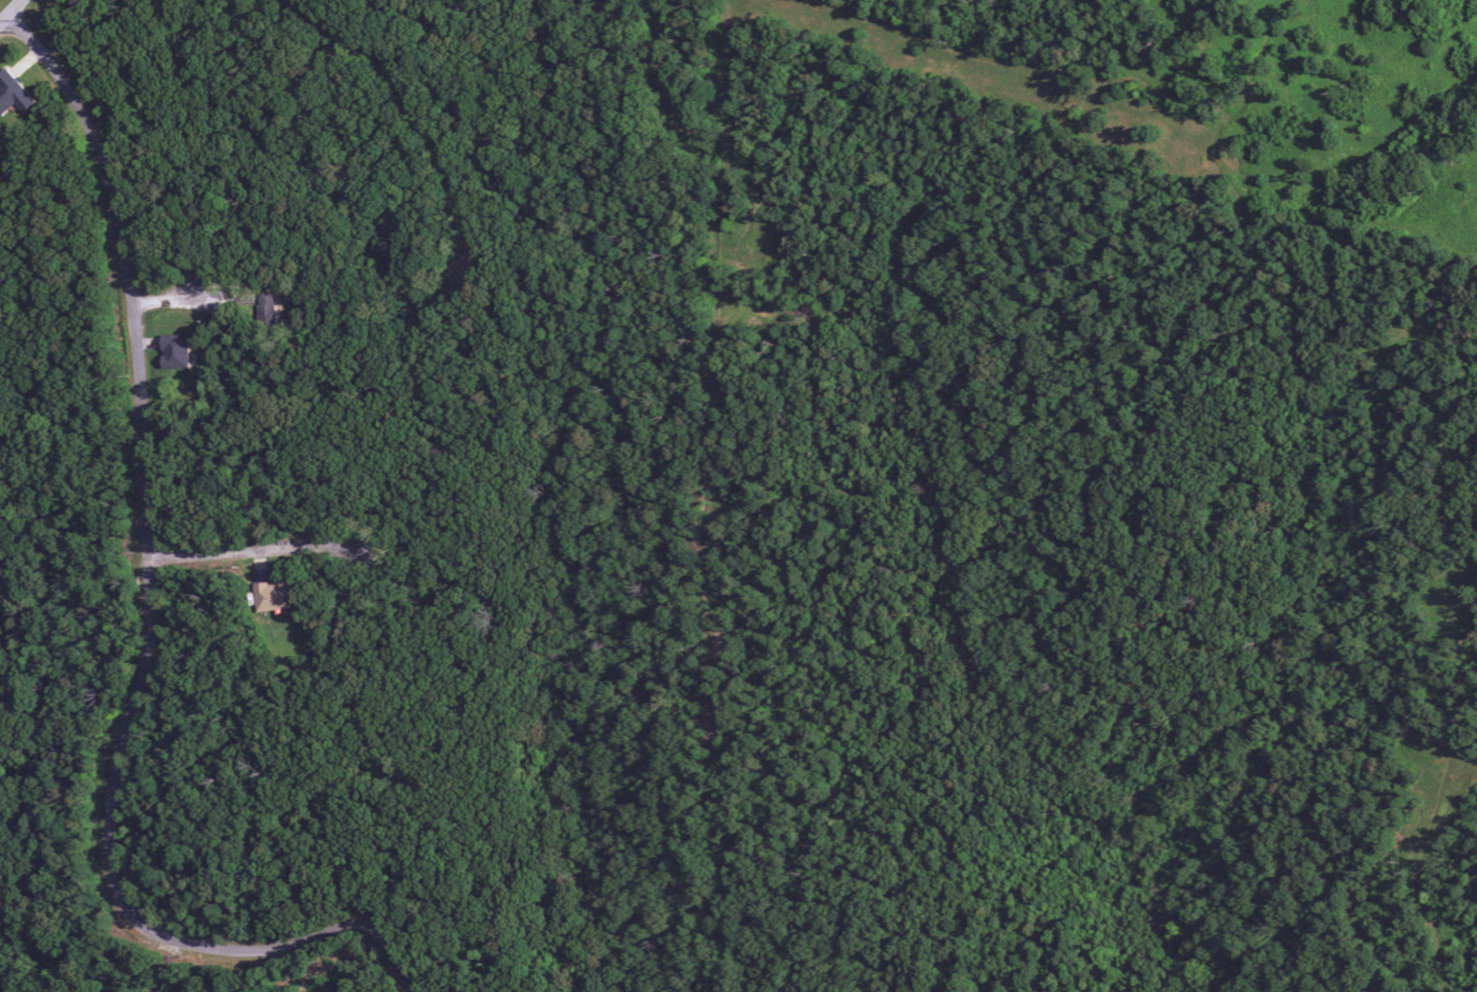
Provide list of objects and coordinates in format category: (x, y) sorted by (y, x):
road: (9, 10)
road: (2, 14)
road: (665, 69)
building: (13, 93)
road: (422, 104)
road: (175, 301)
building: (267, 307)
building: (175, 351)
road: (493, 476)
road: (257, 554)
road: (153, 573)
building: (272, 595)
road: (332, 806)
road: (397, 954)
road: (168, 969)

